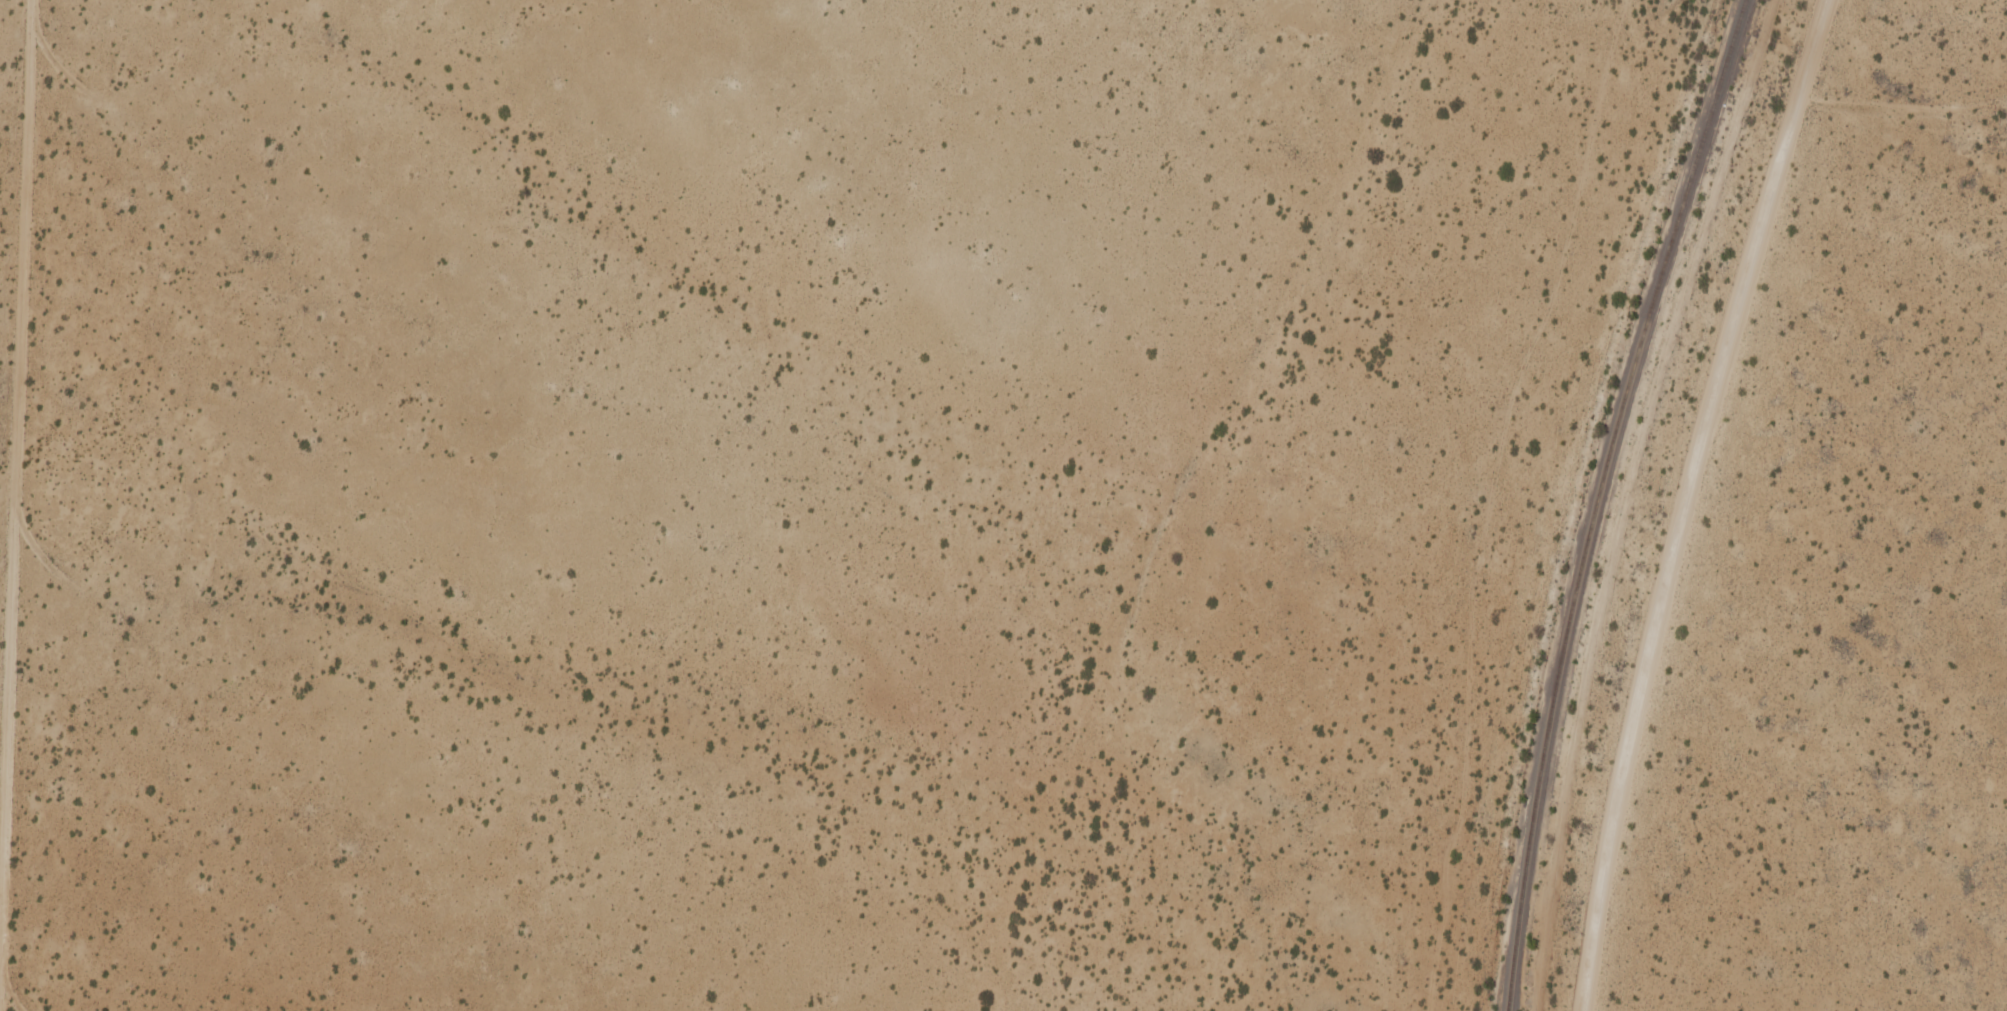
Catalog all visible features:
railway: (1599, 498)
road: (1686, 501)

